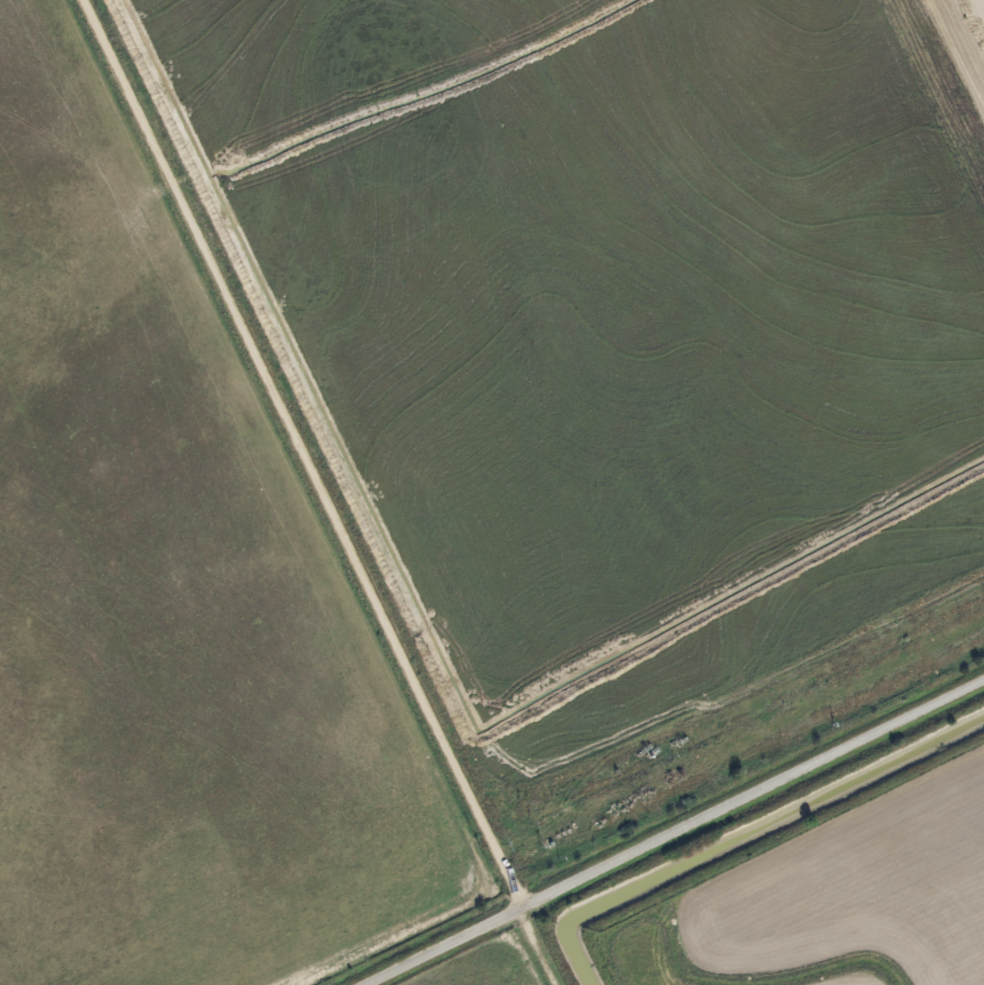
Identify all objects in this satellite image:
road: (317, 493)
road: (748, 794)
road: (439, 946)

